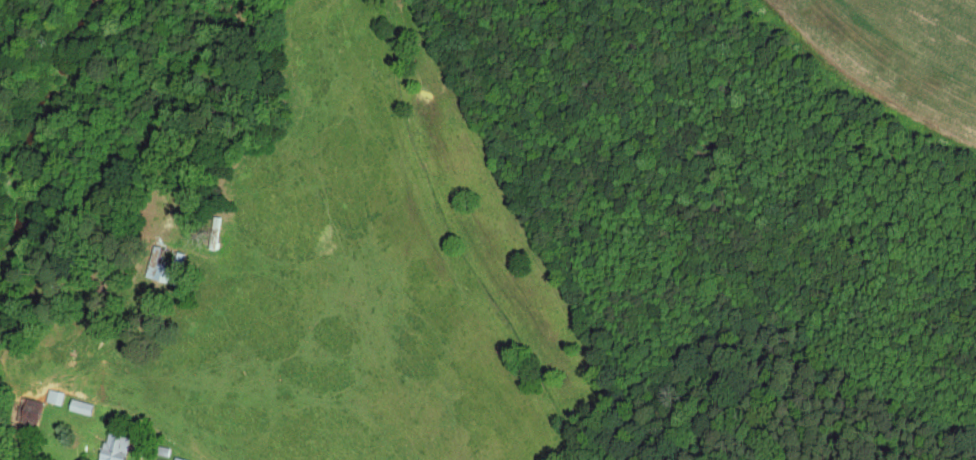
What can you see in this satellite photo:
building: (166, 273)
building: (60, 398)
building: (87, 408)
building: (121, 448)
building: (164, 459)
building: (183, 459)

